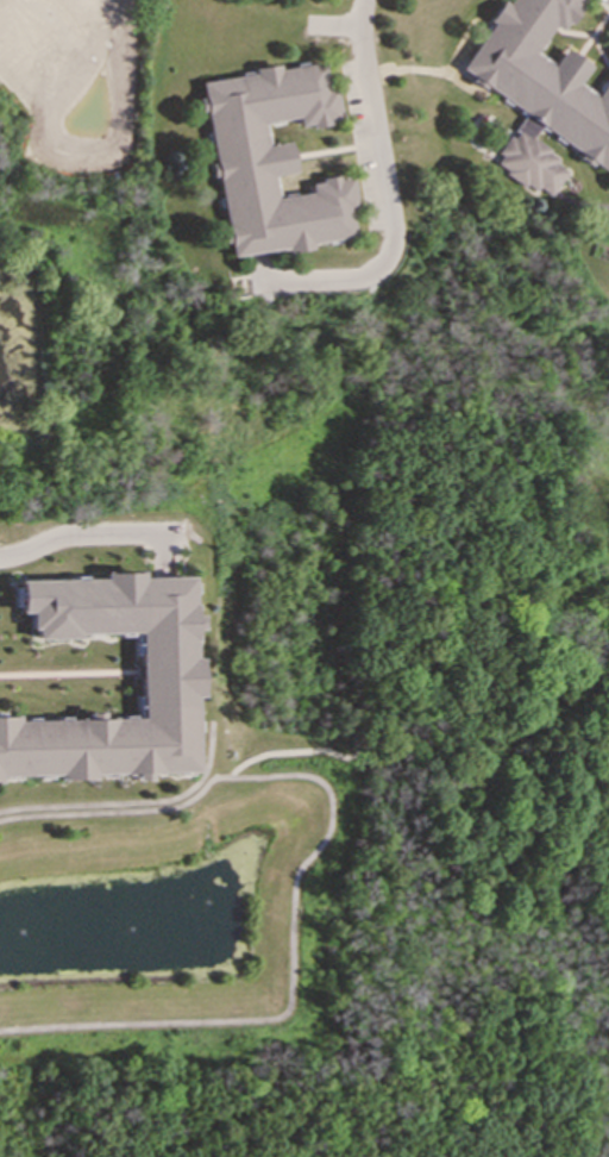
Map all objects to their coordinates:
building: (608, 62)
building: (539, 92)
road: (375, 140)
building: (270, 160)
road: (88, 533)
building: (163, 676)
road: (282, 751)
road: (132, 801)
road: (296, 867)

